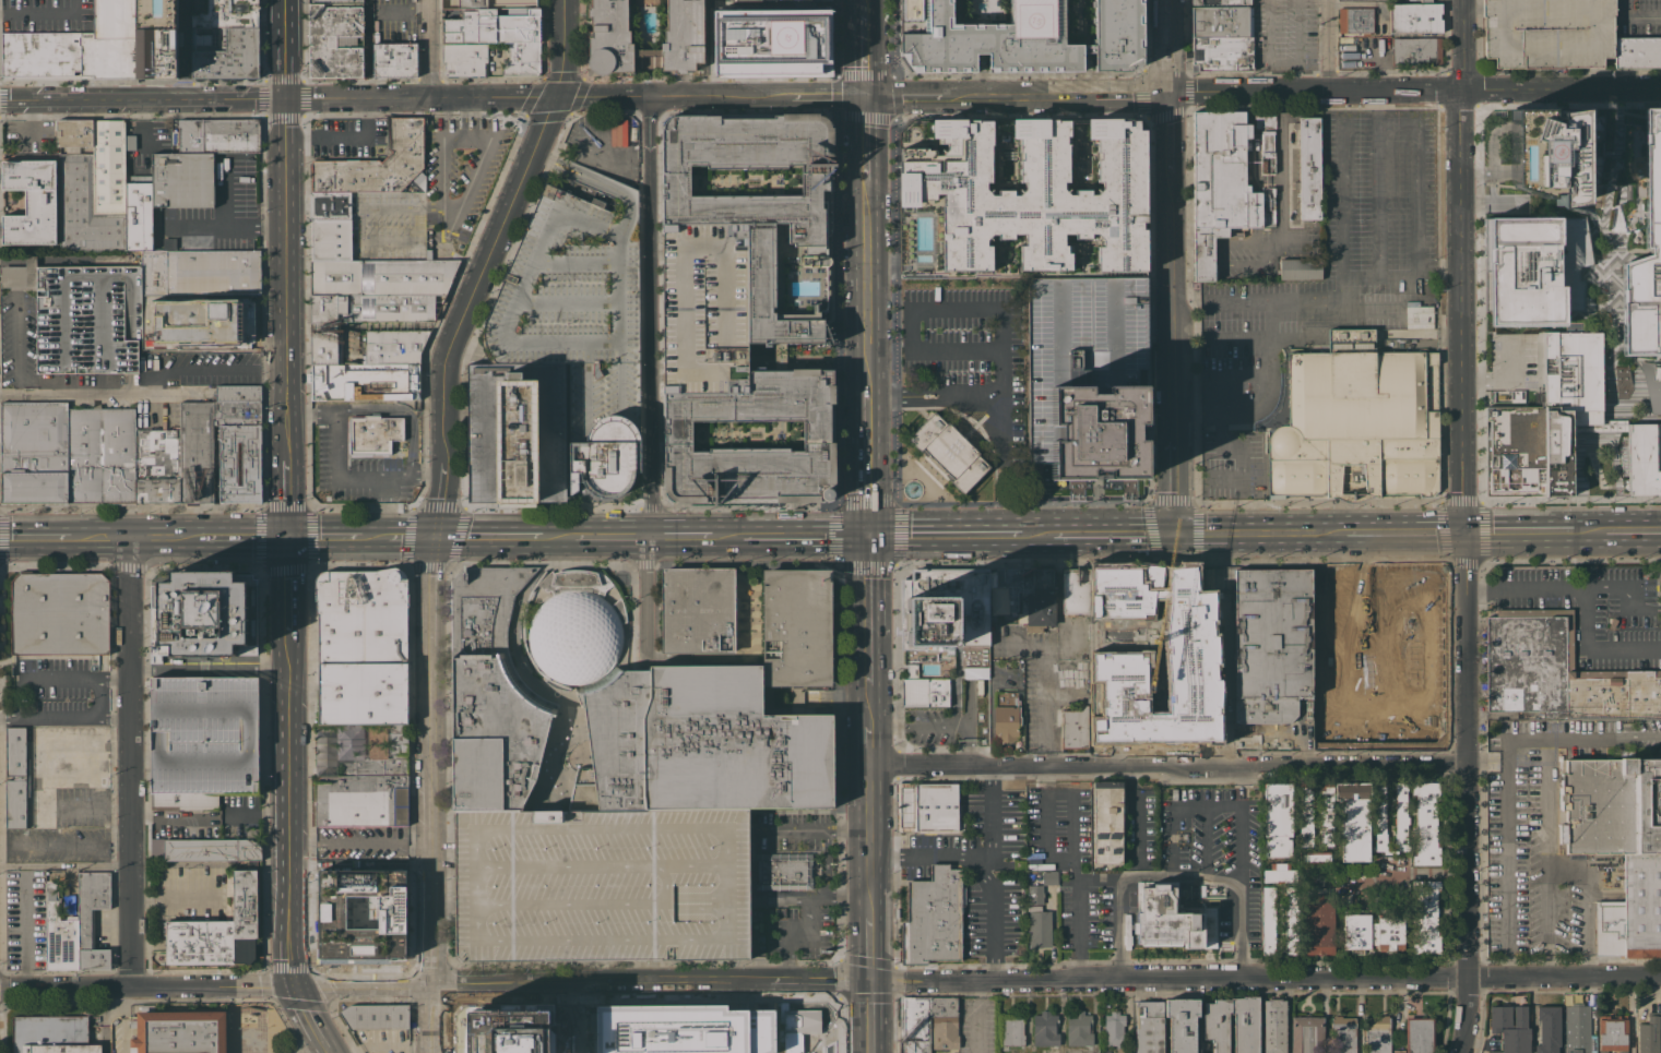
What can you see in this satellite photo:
building: (1425, 0)
building: (333, 1)
building: (1219, 1)
building: (804, 2)
building: (199, 4)
building: (498, 4)
road: (40, 12)
building: (235, 13)
parking lot: (48, 15)
road: (1636, 15)
building: (1415, 17)
helipad: (1031, 19)
building: (1355, 20)
parking lot: (396, 22)
building: (494, 26)
road: (863, 26)
building: (1547, 33)
parking lot: (1547, 33)
parking lot: (1286, 35)
building: (608, 36)
helipad: (784, 37)
building: (1019, 37)
building: (1221, 38)
building: (115, 39)
building: (158, 39)
building: (333, 40)
building: (769, 40)
road: (1166, 46)
road: (1328, 46)
road: (367, 48)
road: (432, 48)
road: (183, 49)
road: (286, 49)
building: (28, 50)
building: (1416, 51)
building: (1637, 52)
building: (60, 55)
building: (81, 55)
building: (229, 55)
building: (464, 59)
building: (522, 59)
building: (394, 60)
road: (565, 62)
road: (1282, 63)
road: (864, 73)
road: (1292, 77)
road: (1413, 92)
road: (1015, 94)
traffic signals: (864, 95)
traffic signals: (557, 96)
road: (648, 96)
traffic signals: (287, 98)
road: (360, 98)
road: (143, 99)
road: (1375, 105)
building: (1265, 120)
building: (74, 132)
building: (616, 132)
building: (218, 135)
road: (361, 135)
building: (129, 139)
parking lot: (353, 141)
helipad: (1546, 151)
building: (1267, 152)
building: (1554, 152)
road: (605, 161)
building: (376, 164)
building: (108, 167)
building: (1308, 168)
parking lot: (461, 173)
building: (1611, 175)
road: (1414, 176)
building: (1651, 178)
building: (1222, 186)
road: (1339, 191)
road: (222, 193)
road: (1376, 196)
building: (1028, 199)
road: (1284, 201)
building: (29, 202)
road: (1493, 204)
building: (330, 205)
building: (84, 210)
building: (187, 215)
building: (139, 219)
road: (224, 227)
building: (330, 239)
road: (1181, 242)
road: (864, 243)
road: (1203, 243)
road: (892, 248)
road: (841, 251)
road: (7, 261)
road: (1463, 265)
building: (1300, 268)
building: (1534, 268)
road: (13, 276)
road: (1413, 276)
road: (288, 277)
building: (381, 277)
road: (1291, 301)
building: (153, 304)
building: (760, 304)
building: (227, 306)
building: (705, 309)
parking lot: (705, 309)
road: (1609, 309)
road: (1168, 313)
building: (83, 315)
road: (650, 315)
building: (361, 318)
building: (580, 321)
road: (461, 322)
building: (234, 330)
road: (1006, 335)
road: (1239, 345)
building: (393, 346)
road: (15, 348)
parking lot: (969, 348)
road: (960, 351)
road: (1635, 356)
building: (141, 364)
road: (227, 369)
building: (1085, 374)
road: (1238, 375)
road: (1492, 379)
building: (365, 381)
building: (1651, 384)
road: (47, 386)
building: (237, 393)
road: (15, 394)
road: (72, 394)
road: (1266, 398)
building: (236, 409)
road: (1006, 417)
building: (1546, 417)
road: (1634, 418)
building: (1353, 422)
building: (517, 432)
building: (372, 434)
road: (1236, 447)
building: (949, 451)
building: (34, 453)
building: (197, 453)
building: (102, 455)
building: (1645, 458)
building: (238, 459)
road: (865, 464)
building: (157, 466)
road: (1223, 480)
fountain: (911, 488)
road: (289, 496)
road: (870, 501)
road: (1633, 529)
road: (1589, 530)
road: (1517, 531)
road: (1259, 533)
road: (1403, 533)
traffic signals: (1461, 533)
road: (1036, 534)
road: (1113, 534)
traffic signals: (1173, 534)
road: (942, 535)
road: (557, 536)
road: (612, 536)
road: (680, 536)
road: (788, 536)
traffic signals: (866, 536)
road: (247, 537)
traffic signals: (289, 537)
road: (324, 537)
road: (373, 537)
road: (410, 537)
traffic signals: (434, 537)
road: (487, 537)
road: (99, 538)
road: (166, 538)
road: (36, 539)
building: (1660, 573)
building: (1213, 578)
road: (289, 587)
road: (1523, 587)
road: (1602, 587)
building: (1076, 590)
building: (1028, 594)
road: (645, 599)
road: (1636, 606)
building: (945, 607)
building: (698, 610)
building: (60, 613)
building: (203, 614)
road: (866, 615)
road: (1586, 618)
building: (1612, 623)
building: (576, 626)
building: (795, 639)
building: (1188, 645)
building: (361, 646)
road: (1624, 649)
building: (1267, 650)
road: (210, 669)
building: (911, 671)
building: (975, 672)
building: (1558, 672)
road: (78, 674)
building: (926, 692)
building: (490, 695)
road: (835, 696)
road: (1043, 708)
road: (64, 716)
building: (1006, 718)
road: (914, 727)
building: (1075, 728)
road: (867, 730)
road: (962, 731)
building: (1319, 733)
road: (1582, 738)
building: (202, 740)
parking lot: (202, 740)
building: (699, 744)
building: (15, 751)
road: (39, 758)
road: (130, 763)
road: (1509, 763)
road: (1167, 765)
road: (1045, 777)
road: (992, 778)
building: (361, 790)
road: (1469, 792)
road: (432, 794)
building: (15, 803)
building: (927, 807)
road: (1130, 807)
road: (289, 812)
road: (210, 814)
building: (1306, 814)
building: (1327, 814)
building: (1277, 818)
building: (1354, 819)
building: (1401, 819)
building: (1107, 822)
road: (993, 823)
road: (1045, 823)
building: (1426, 823)
road: (1241, 827)
road: (816, 833)
road: (869, 840)
road: (1505, 841)
parking lot: (364, 845)
building: (1618, 845)
building: (205, 849)
road: (1551, 853)
road: (885, 857)
road: (946, 857)
road: (1061, 858)
building: (1316, 858)
road: (361, 864)
road: (824, 864)
road: (64, 865)
building: (1279, 865)
building: (784, 871)
road: (1077, 872)
road: (982, 873)
road: (1410, 873)
building: (1279, 875)
building: (1049, 877)
road: (1178, 877)
building: (601, 884)
parking lot: (601, 884)
building: (1035, 894)
road: (752, 895)
road: (177, 898)
road: (1588, 908)
road: (804, 911)
building: (359, 913)
building: (933, 917)
building: (1426, 918)
building: (1172, 919)
building: (1291, 920)
building: (1268, 921)
road: (993, 923)
building: (76, 924)
building: (1318, 924)
building: (1039, 926)
building: (217, 930)
building: (1373, 933)
road: (1546, 944)
road: (873, 948)
road: (1079, 965)
road: (994, 968)
road: (1267, 977)
traffic signals: (874, 981)
road: (585, 984)
road: (147, 988)
traffic signals: (297, 988)
building: (376, 1016)
road: (310, 1017)
road: (874, 1017)
road: (569, 1019)
road: (122, 1020)
building: (920, 1020)
building: (1182, 1024)
building: (1215, 1026)
building: (1274, 1026)
building: (1149, 1027)
building: (796, 1028)
building: (1510, 1028)
building: (1045, 1029)
building: (1079, 1029)
building: (1114, 1029)
building: (1547, 1029)
building: (1578, 1029)
building: (680, 1030)
building: (1011, 1030)
building: (180, 1031)
building: (945, 1032)
building: (503, 1033)
building: (1649, 1033)
building: (51, 1034)
building: (1307, 1034)
building: (1342, 1034)
building: (1377, 1034)
building: (1419, 1034)
building: (1612, 1034)
road: (329, 1050)
building: (937, 1051)
building: (1399, 1051)

